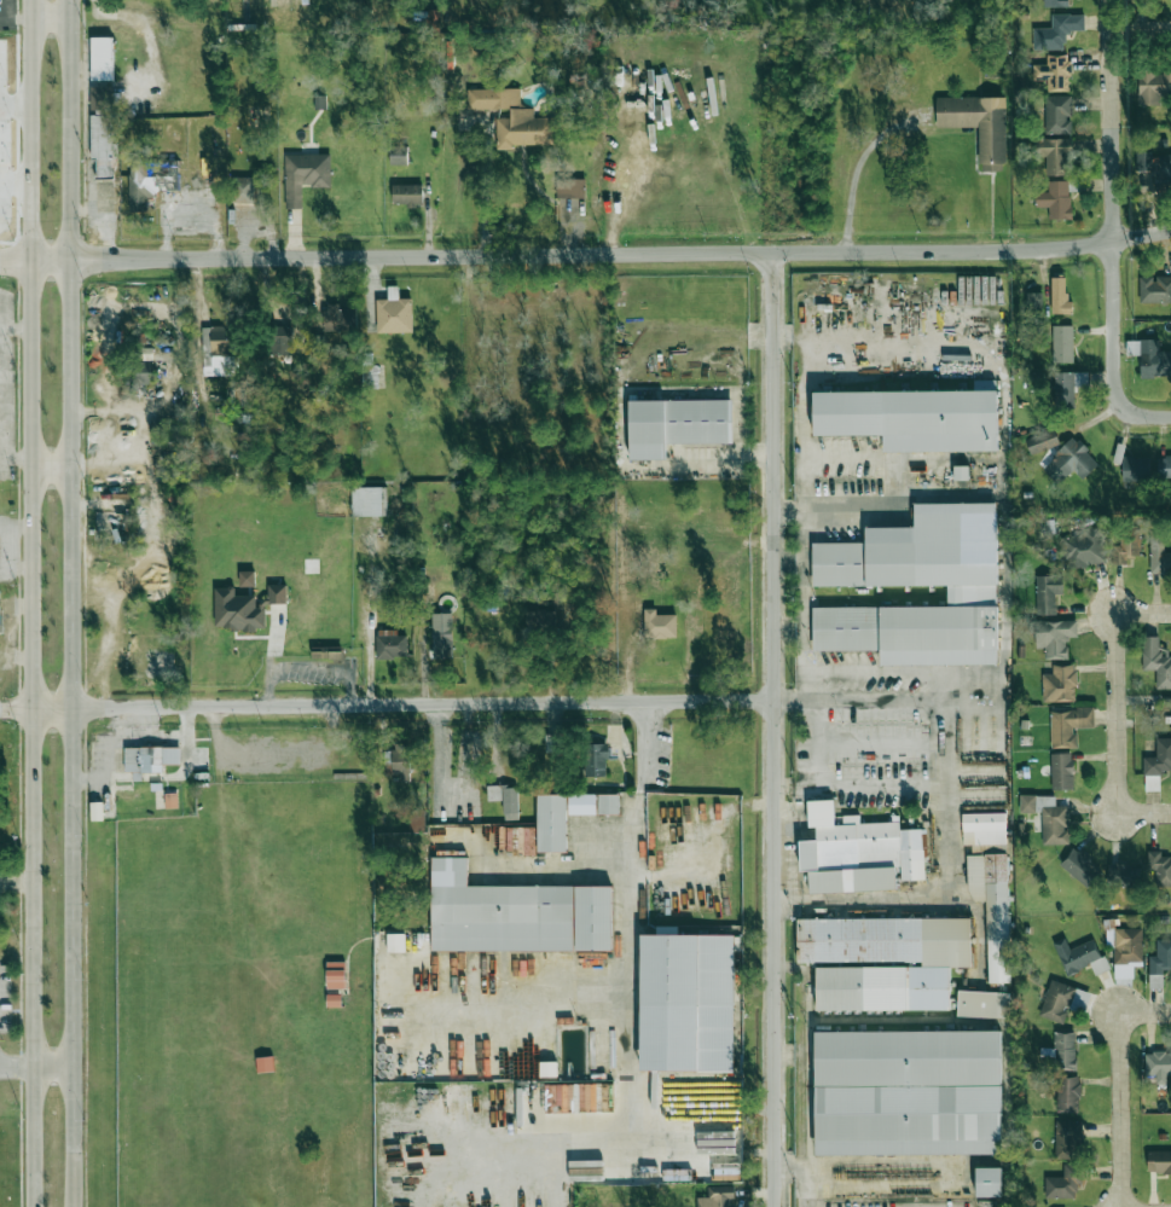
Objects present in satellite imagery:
building: (1055, 2)
road: (47, 17)
road: (1141, 28)
building: (1056, 30)
building: (100, 58)
building: (1053, 71)
building: (1153, 86)
building: (1057, 114)
building: (511, 117)
building: (978, 124)
building: (103, 132)
building: (398, 155)
building: (1055, 155)
road: (857, 166)
building: (1155, 168)
building: (305, 175)
building: (139, 184)
building: (569, 187)
building: (243, 190)
road: (485, 190)
building: (406, 195)
building: (1055, 199)
road: (1112, 216)
road: (585, 253)
building: (1154, 289)
building: (1059, 296)
building: (1033, 301)
road: (2, 312)
building: (393, 312)
building: (338, 318)
building: (280, 340)
building: (1061, 343)
building: (218, 350)
building: (1149, 356)
building: (367, 371)
road: (30, 377)
road: (5, 379)
building: (1067, 385)
road: (1160, 414)
building: (910, 418)
building: (677, 424)
building: (1040, 440)
road: (18, 458)
building: (1069, 460)
building: (1164, 466)
building: (1134, 469)
road: (52, 471)
building: (367, 500)
road: (840, 505)
building: (1083, 547)
building: (1125, 547)
building: (1158, 555)
building: (905, 563)
building: (1047, 592)
building: (276, 593)
road: (74, 603)
road: (806, 603)
building: (630, 605)
building: (236, 610)
building: (0, 615)
building: (540, 619)
road: (1119, 621)
building: (657, 625)
building: (441, 634)
building: (1054, 637)
building: (389, 644)
building: (1156, 661)
road: (334, 666)
road: (268, 683)
building: (1059, 684)
road: (388, 706)
building: (1068, 725)
road: (776, 729)
road: (1119, 748)
building: (149, 758)
building: (1158, 758)
building: (595, 759)
building: (399, 760)
building: (1061, 771)
road: (860, 784)
building: (505, 799)
road: (945, 801)
building: (581, 803)
building: (607, 803)
road: (1144, 816)
building: (1048, 817)
building: (416, 819)
building: (551, 823)
building: (984, 828)
building: (858, 853)
building: (1079, 866)
building: (1159, 867)
building: (1123, 875)
building: (992, 909)
building: (515, 915)
building: (395, 942)
building: (1126, 951)
building: (1079, 956)
building: (882, 961)
building: (1159, 962)
road: (34, 980)
road: (625, 988)
building: (1062, 1000)
building: (686, 1003)
building: (982, 1003)
road: (1121, 1016)
road: (17, 1063)
road: (53, 1064)
building: (1158, 1064)
building: (908, 1093)
building: (1067, 1093)
building: (1066, 1138)
road: (1121, 1138)
building: (1159, 1161)
road: (805, 1176)
building: (1063, 1183)
building: (987, 1184)
building: (715, 1197)

